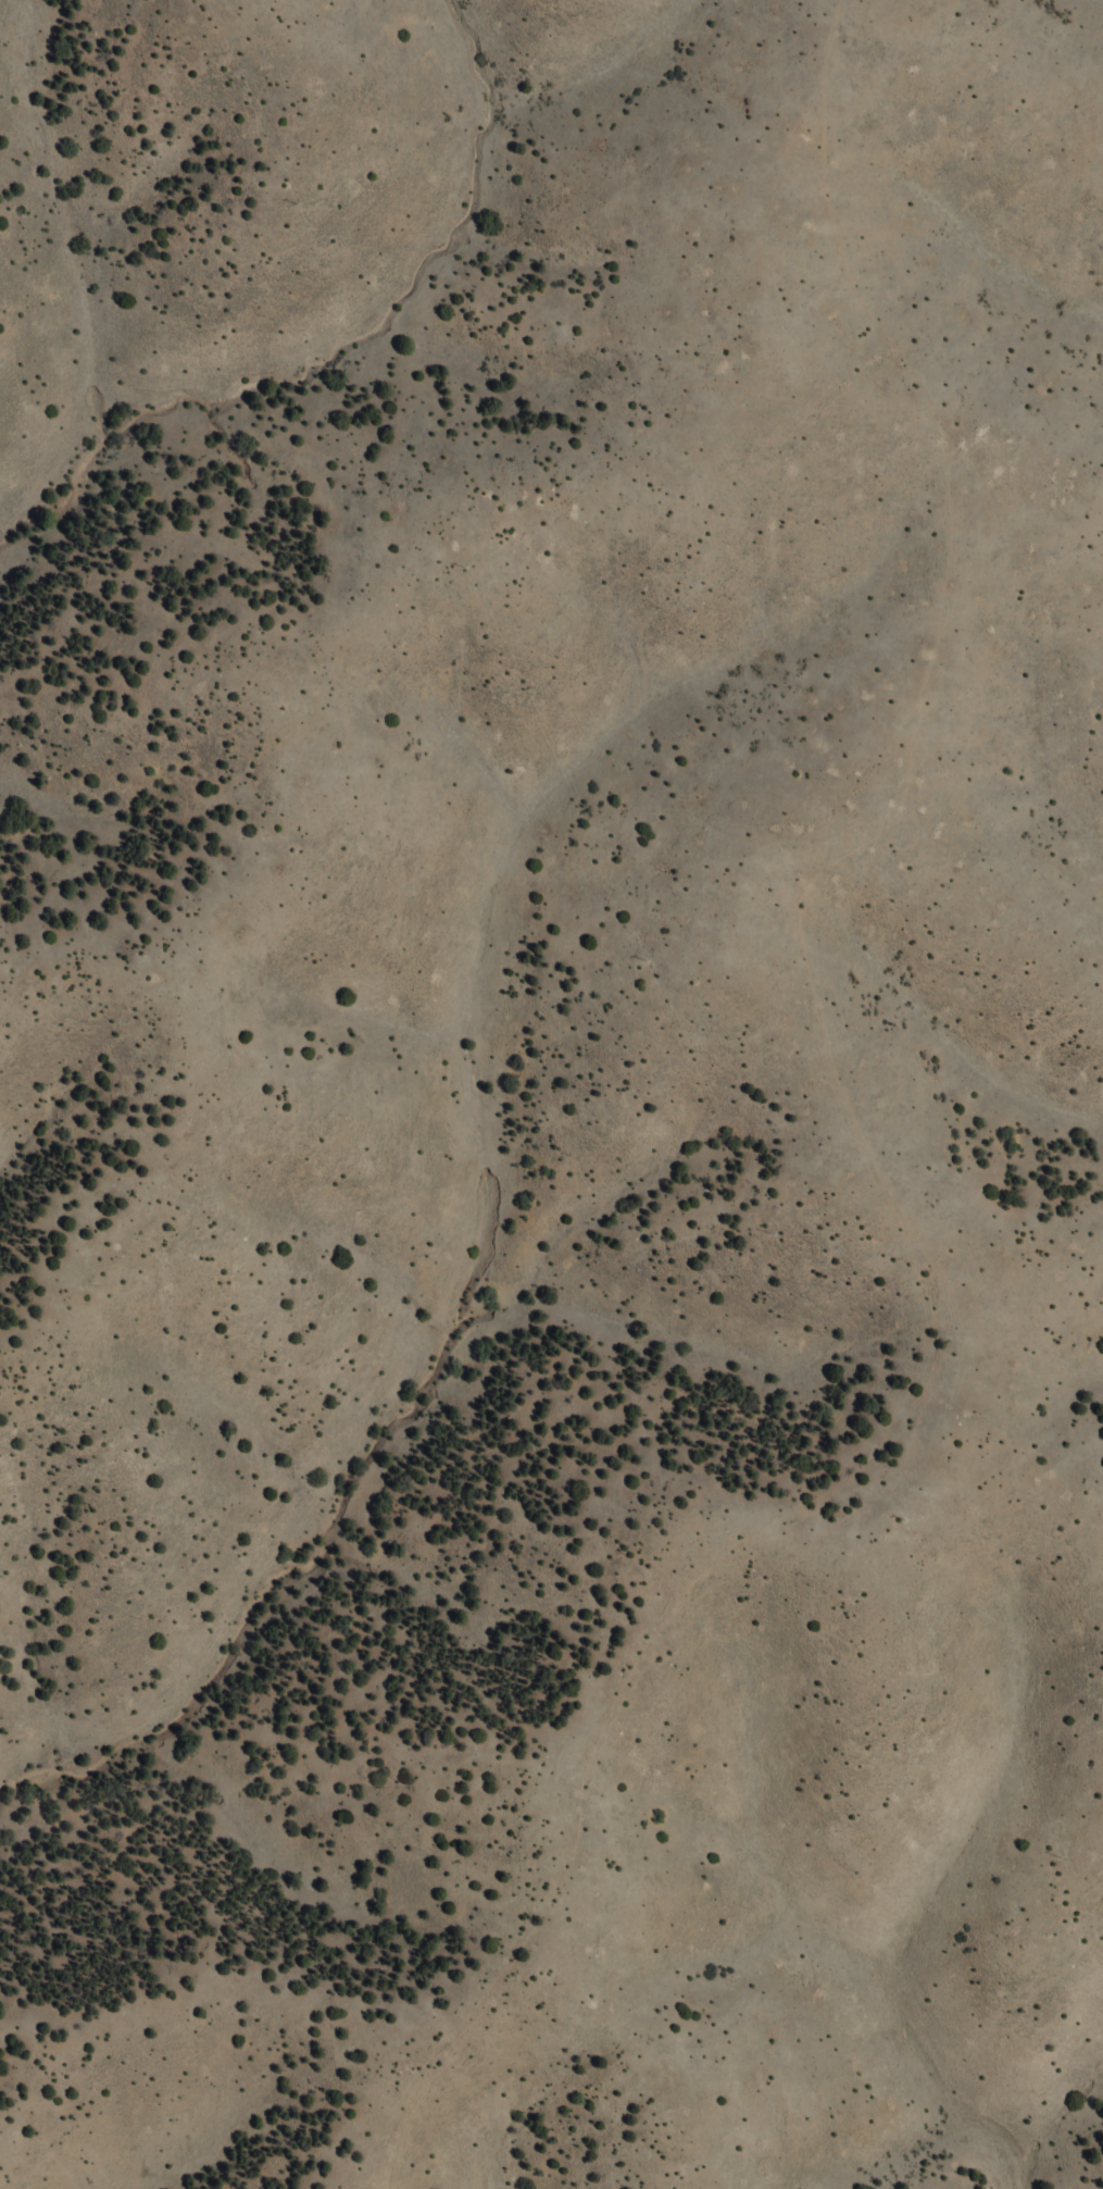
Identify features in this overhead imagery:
road: (791, 137)

